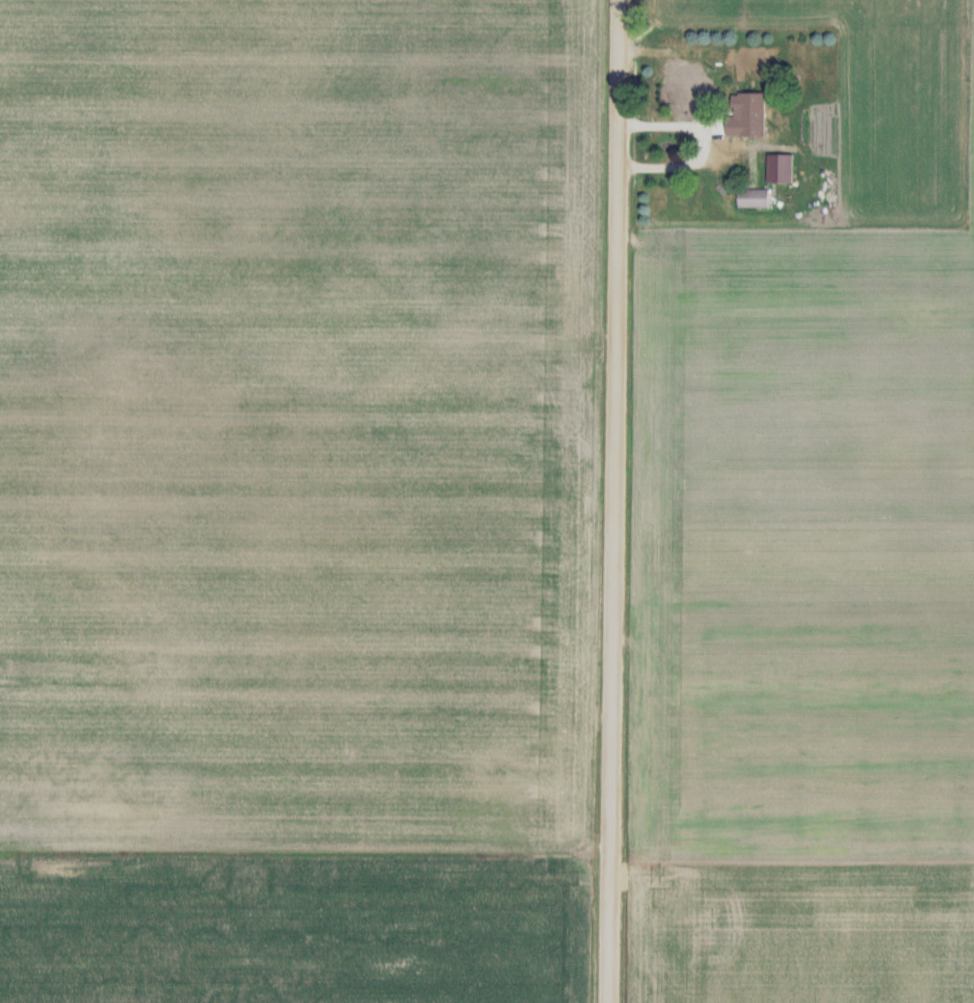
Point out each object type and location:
building: (691, 95)
building: (782, 170)
building: (755, 200)
road: (626, 501)

